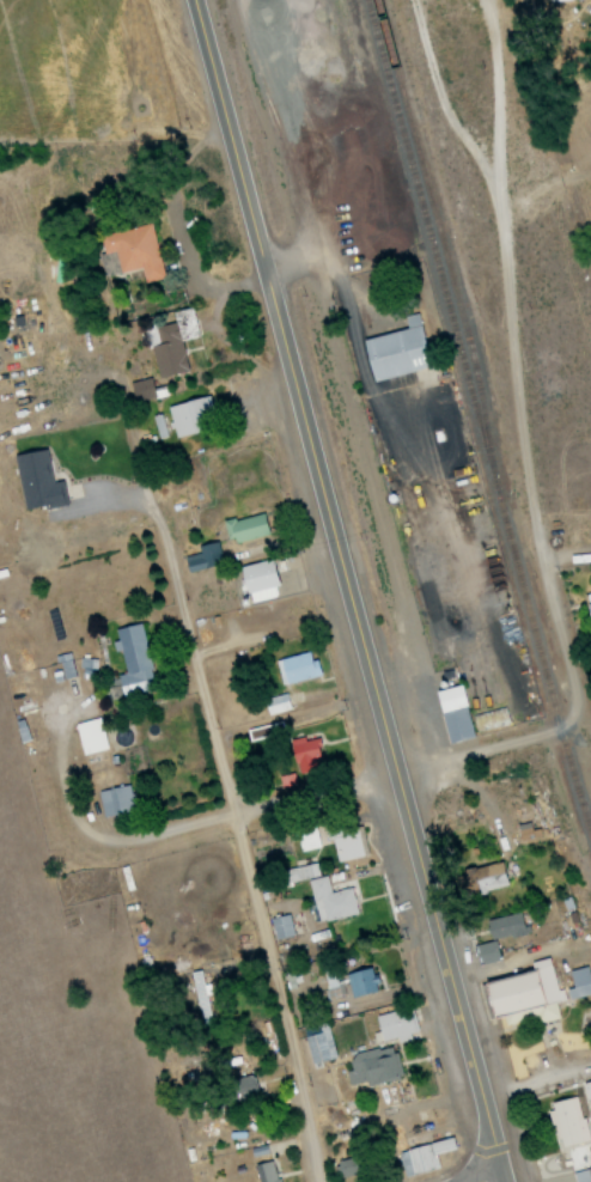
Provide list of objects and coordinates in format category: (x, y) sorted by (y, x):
road: (491, 89)
road: (114, 181)
railway: (441, 248)
building: (133, 250)
building: (172, 339)
building: (395, 351)
road: (511, 360)
building: (138, 389)
building: (187, 415)
railway: (470, 415)
building: (36, 481)
building: (242, 526)
building: (202, 556)
building: (257, 580)
road: (345, 590)
road: (16, 593)
road: (59, 640)
building: (132, 659)
building: (295, 666)
building: (275, 703)
building: (453, 713)
building: (483, 721)
road: (575, 727)
building: (90, 736)
road: (217, 748)
building: (303, 750)
road: (322, 792)
building: (115, 800)
building: (306, 837)
building: (346, 842)
building: (298, 873)
building: (479, 878)
building: (329, 900)
building: (505, 925)
building: (280, 926)
building: (485, 952)
building: (359, 981)
building: (578, 982)
building: (523, 995)
road: (126, 1016)
building: (394, 1024)
building: (318, 1046)
building: (372, 1066)
building: (237, 1089)
building: (586, 1091)
building: (567, 1121)
building: (424, 1156)
building: (579, 1157)
building: (343, 1168)
building: (264, 1171)
road: (485, 1177)

